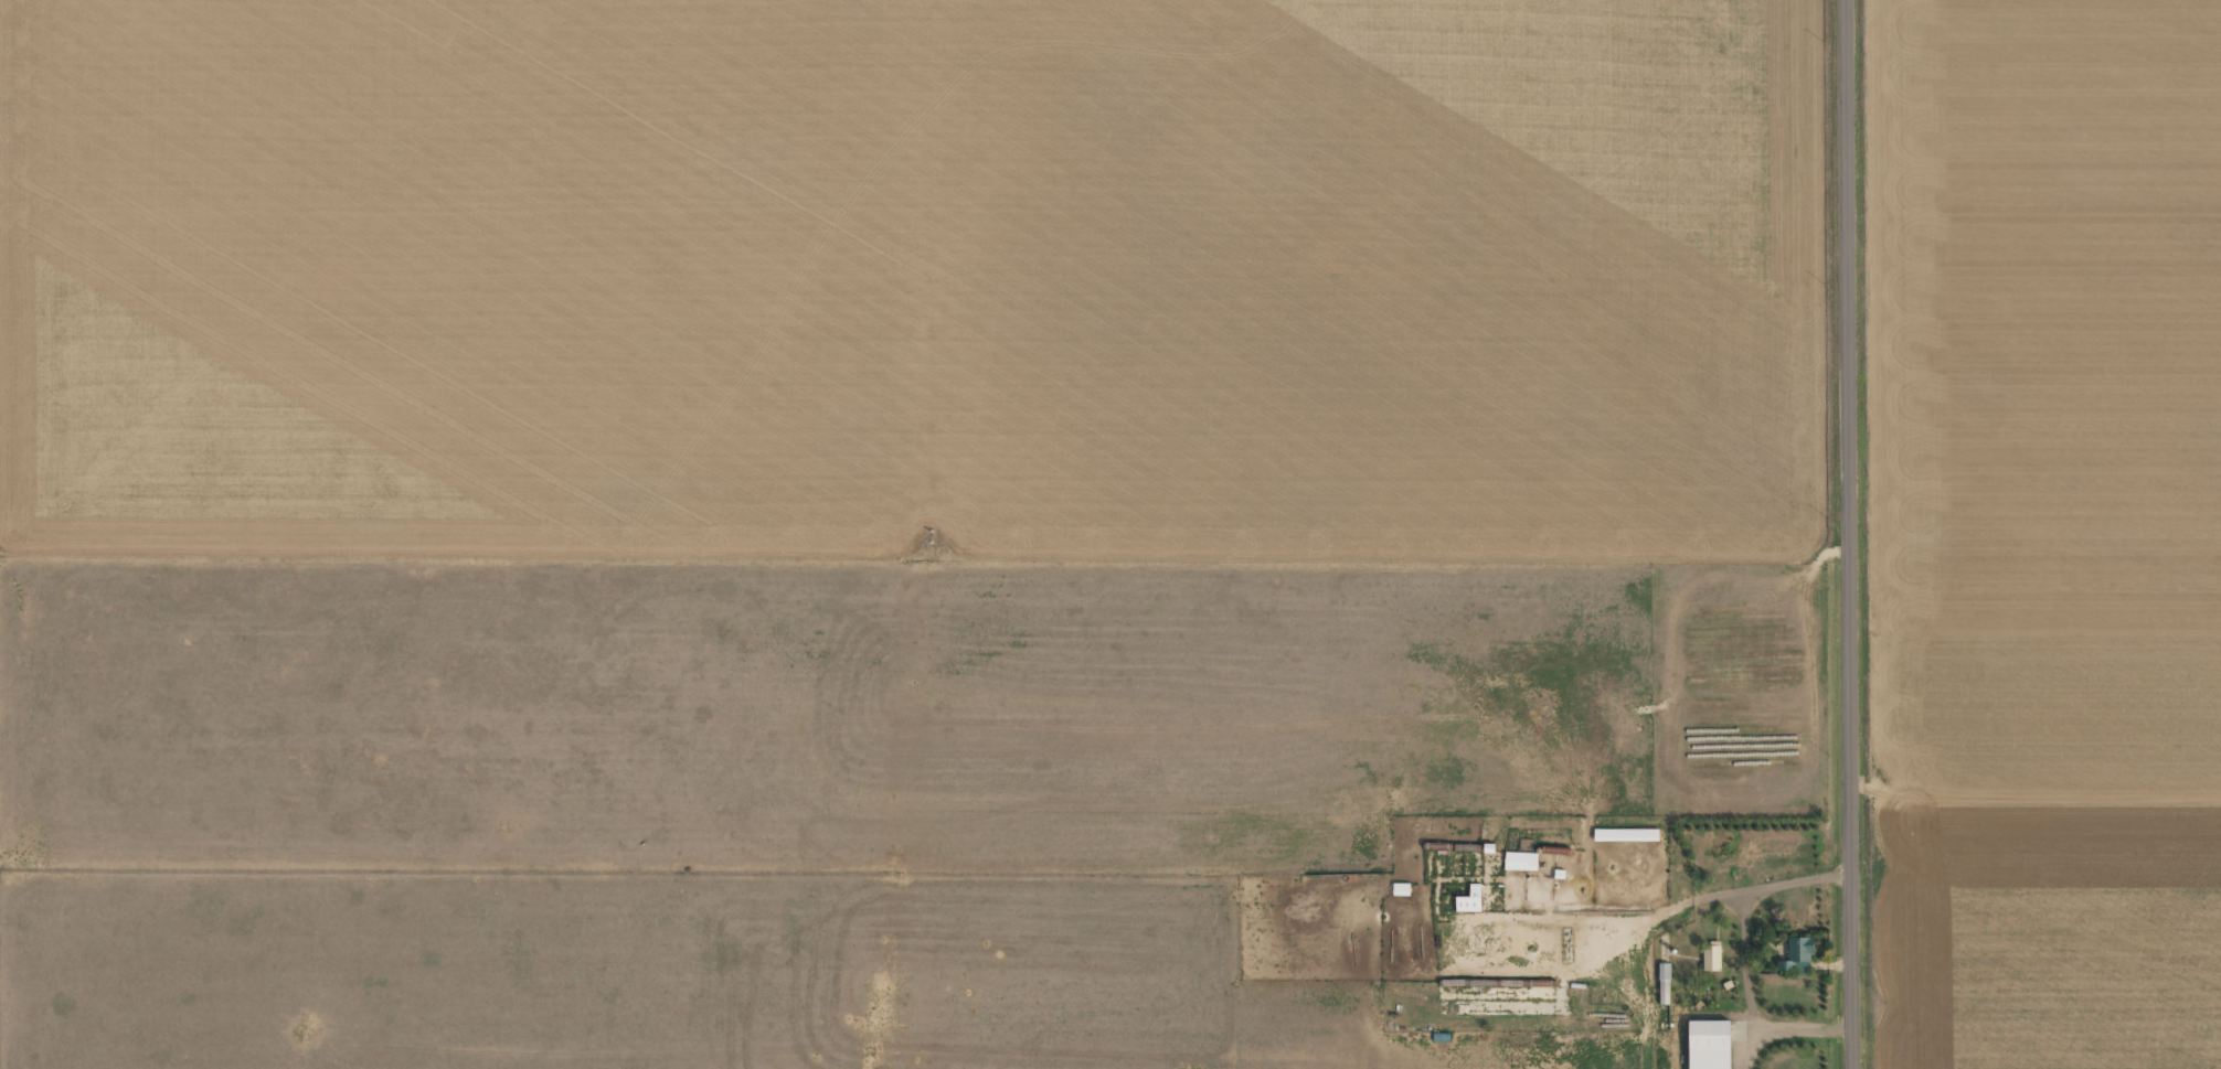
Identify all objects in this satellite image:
road: (1849, 534)
building: (1632, 835)
building: (1526, 860)

